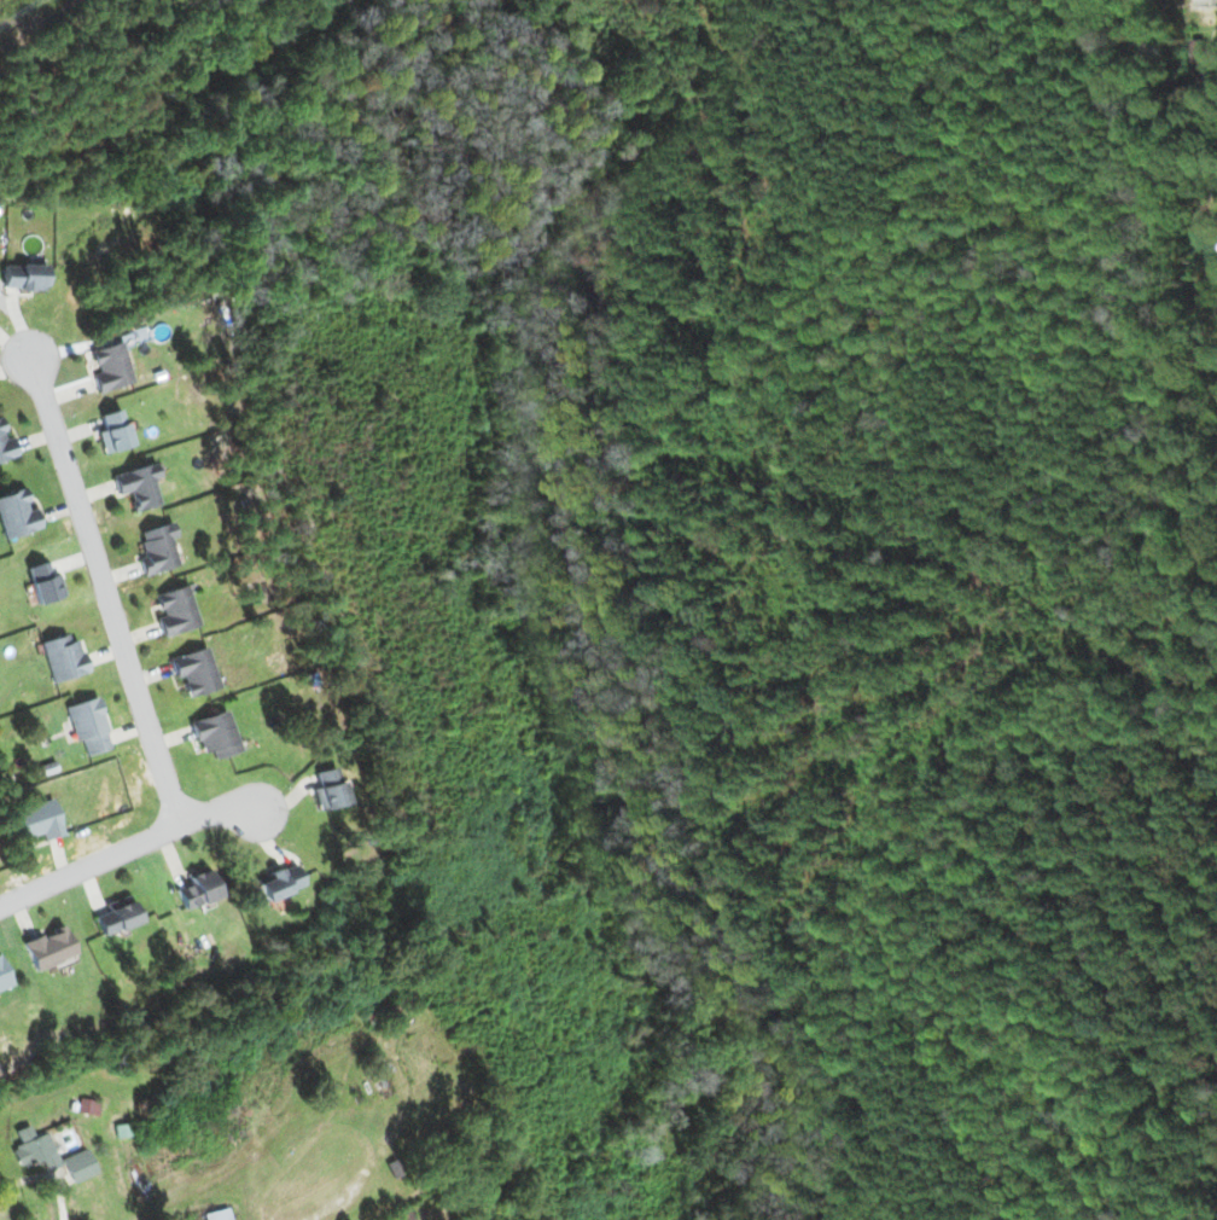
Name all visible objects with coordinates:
building: (23, 278)
building: (107, 366)
building: (111, 431)
building: (6, 447)
building: (136, 486)
building: (16, 515)
building: (156, 548)
building: (42, 583)
road: (109, 589)
building: (175, 610)
building: (62, 657)
building: (196, 670)
building: (87, 725)
building: (216, 734)
building: (330, 789)
building: (36, 821)
road: (128, 850)
building: (280, 882)
building: (199, 889)
building: (120, 916)
building: (50, 948)
building: (4, 976)
building: (92, 1108)
building: (35, 1149)
building: (78, 1164)
building: (216, 1214)

